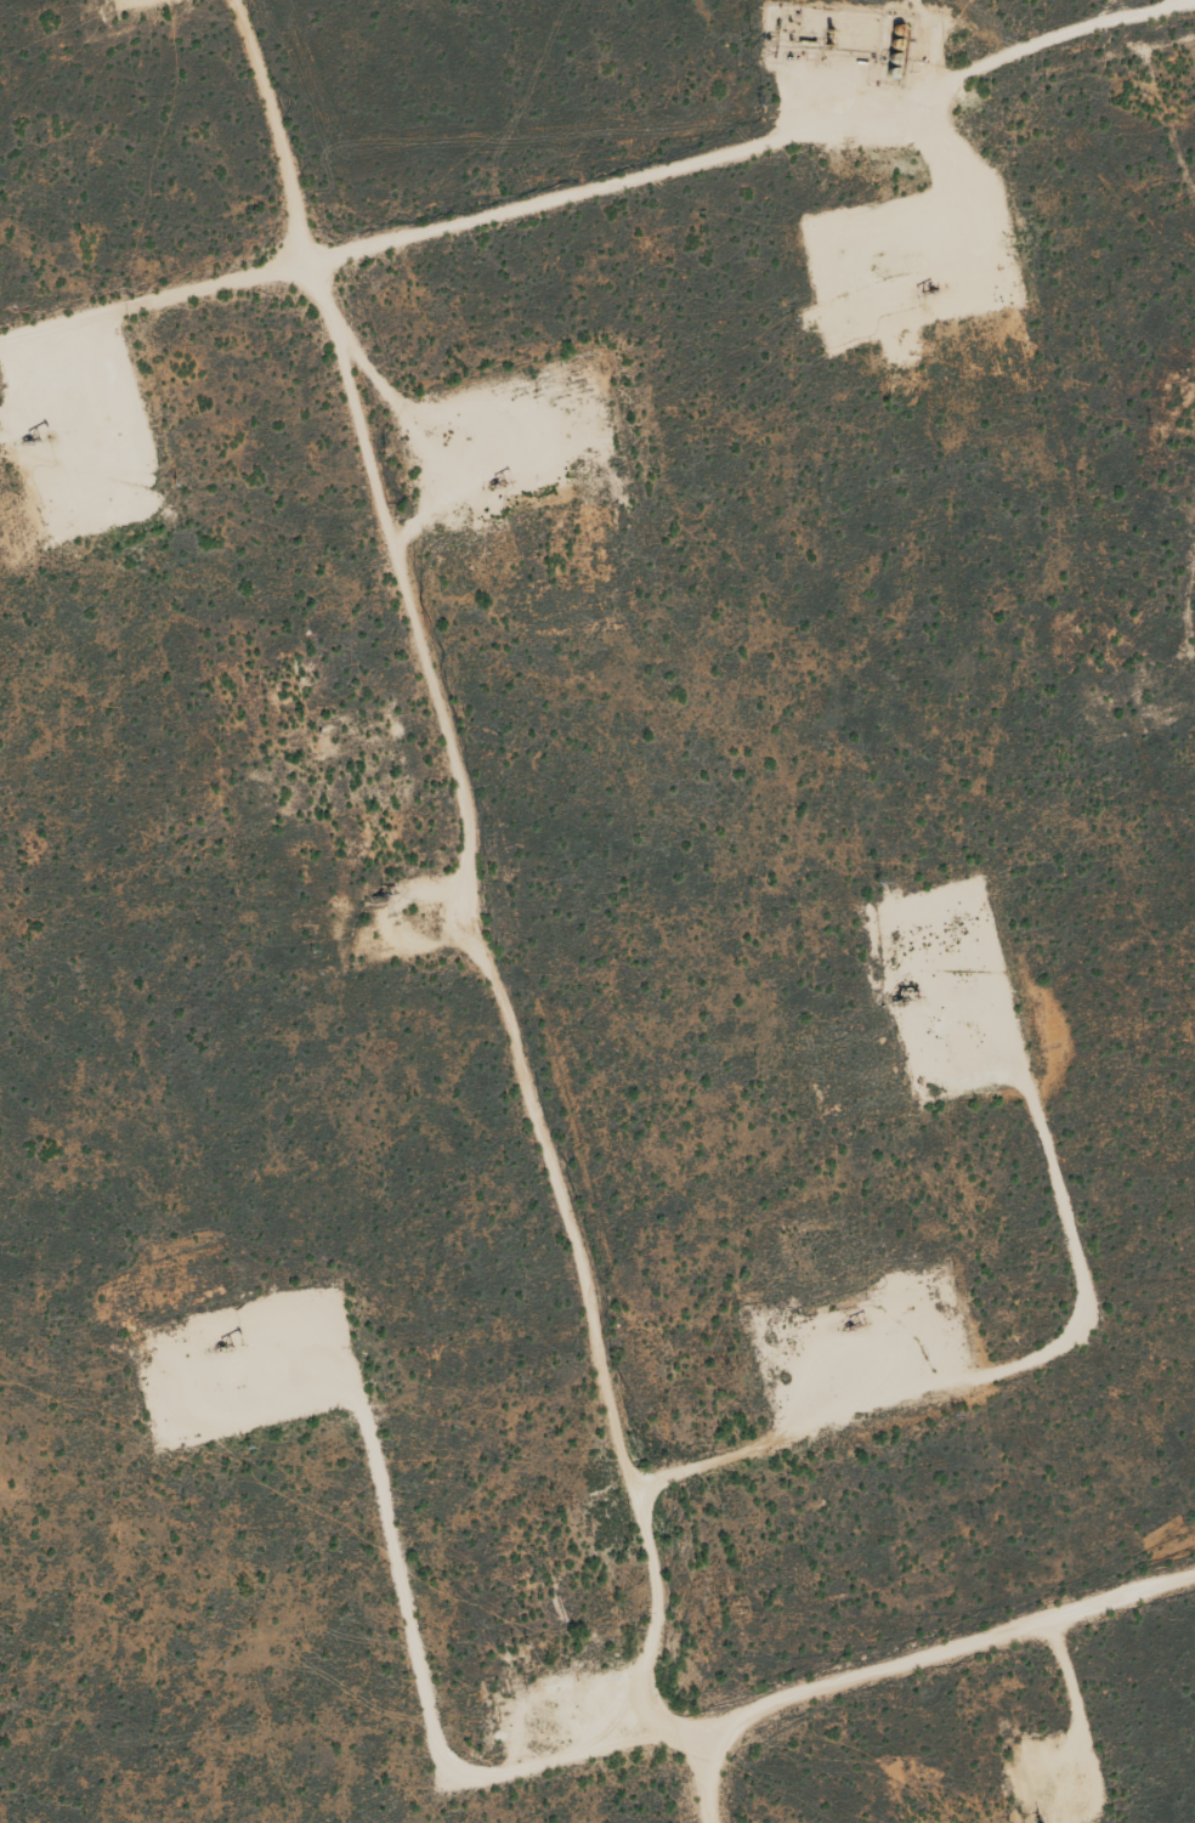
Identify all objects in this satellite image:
road: (475, 917)

